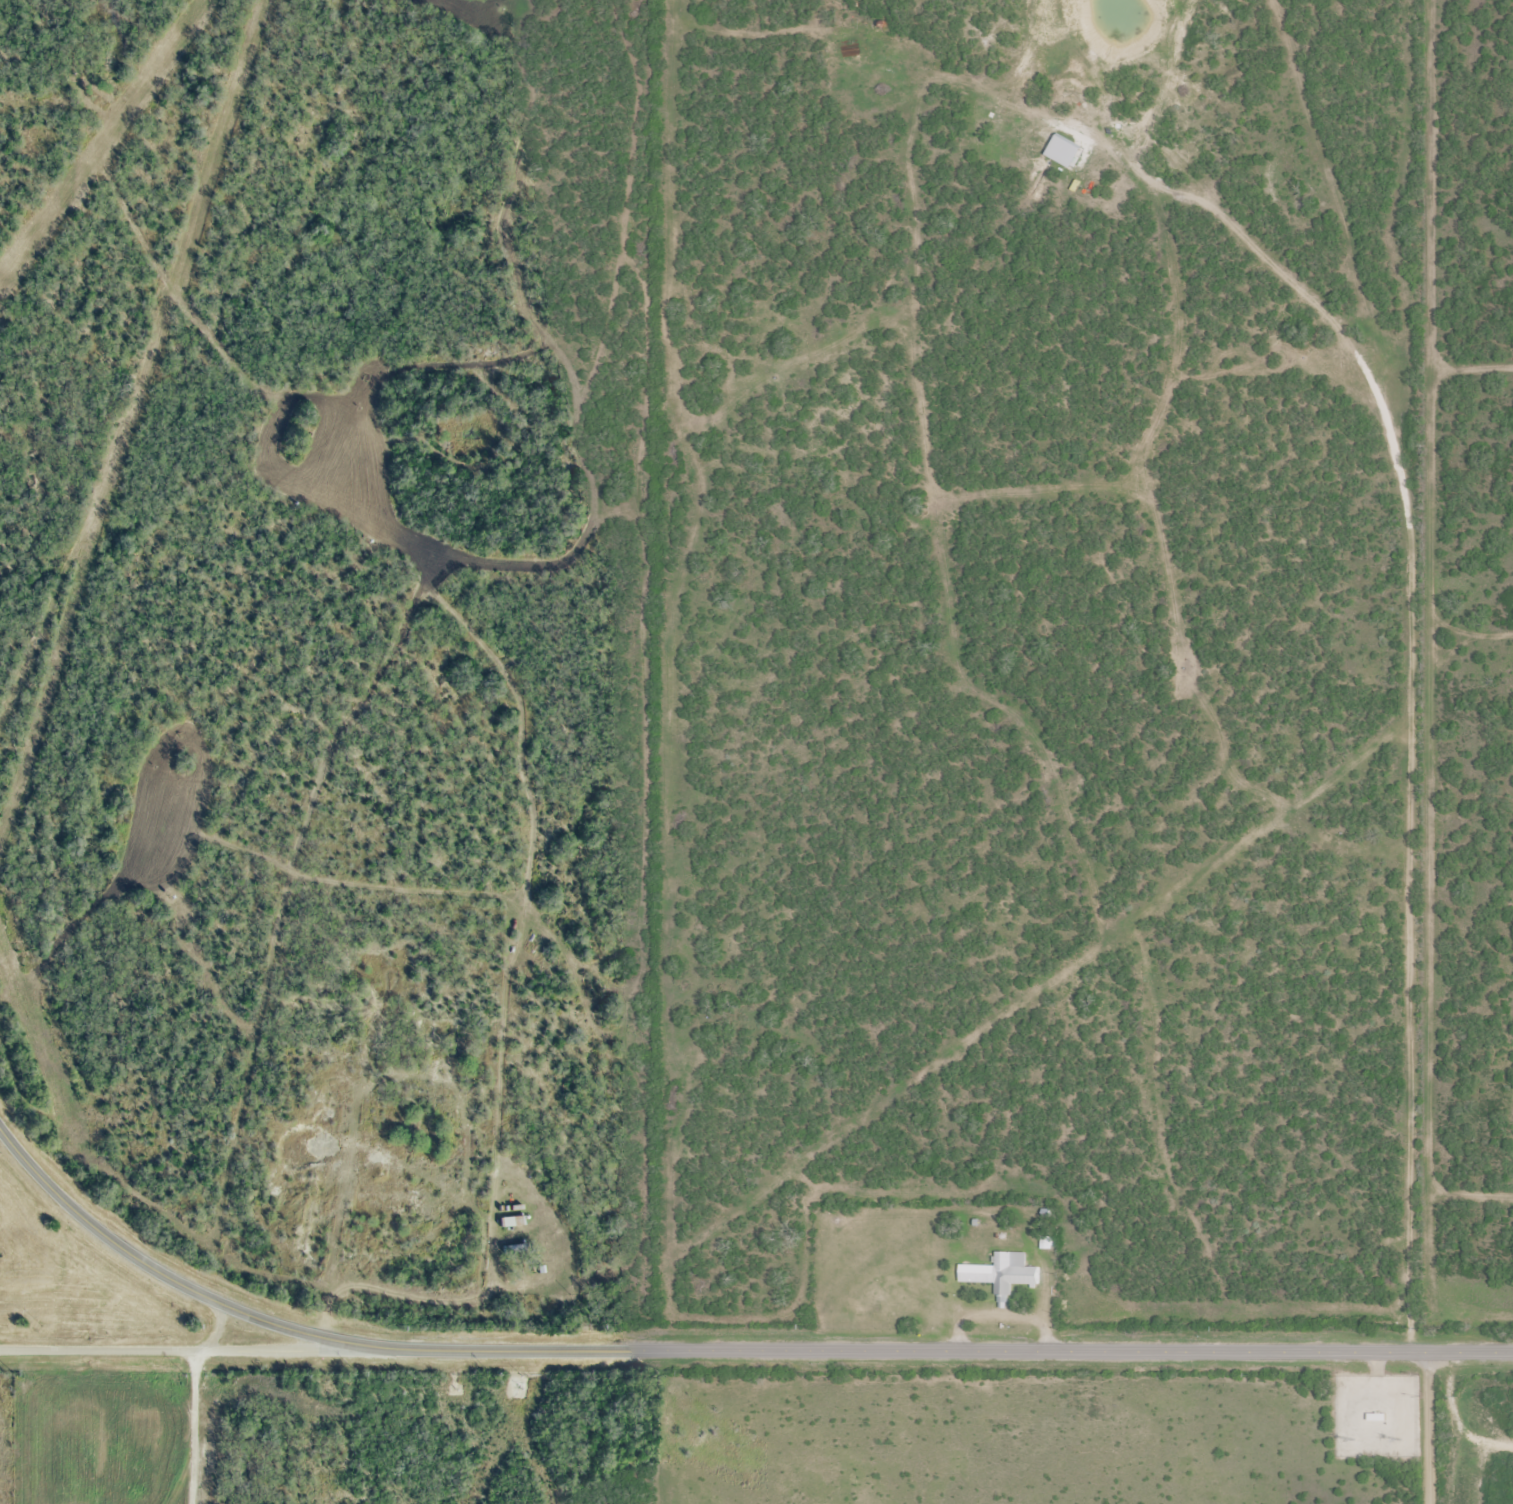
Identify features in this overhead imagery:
building: (1048, 1212)
building: (512, 1218)
building: (1047, 1241)
building: (515, 1245)
building: (540, 1266)
building: (1002, 1272)
road: (186, 1348)
road: (721, 1350)
road: (193, 1398)
building: (1378, 1415)
road: (1427, 1428)
road: (175, 1475)
road: (191, 1475)

